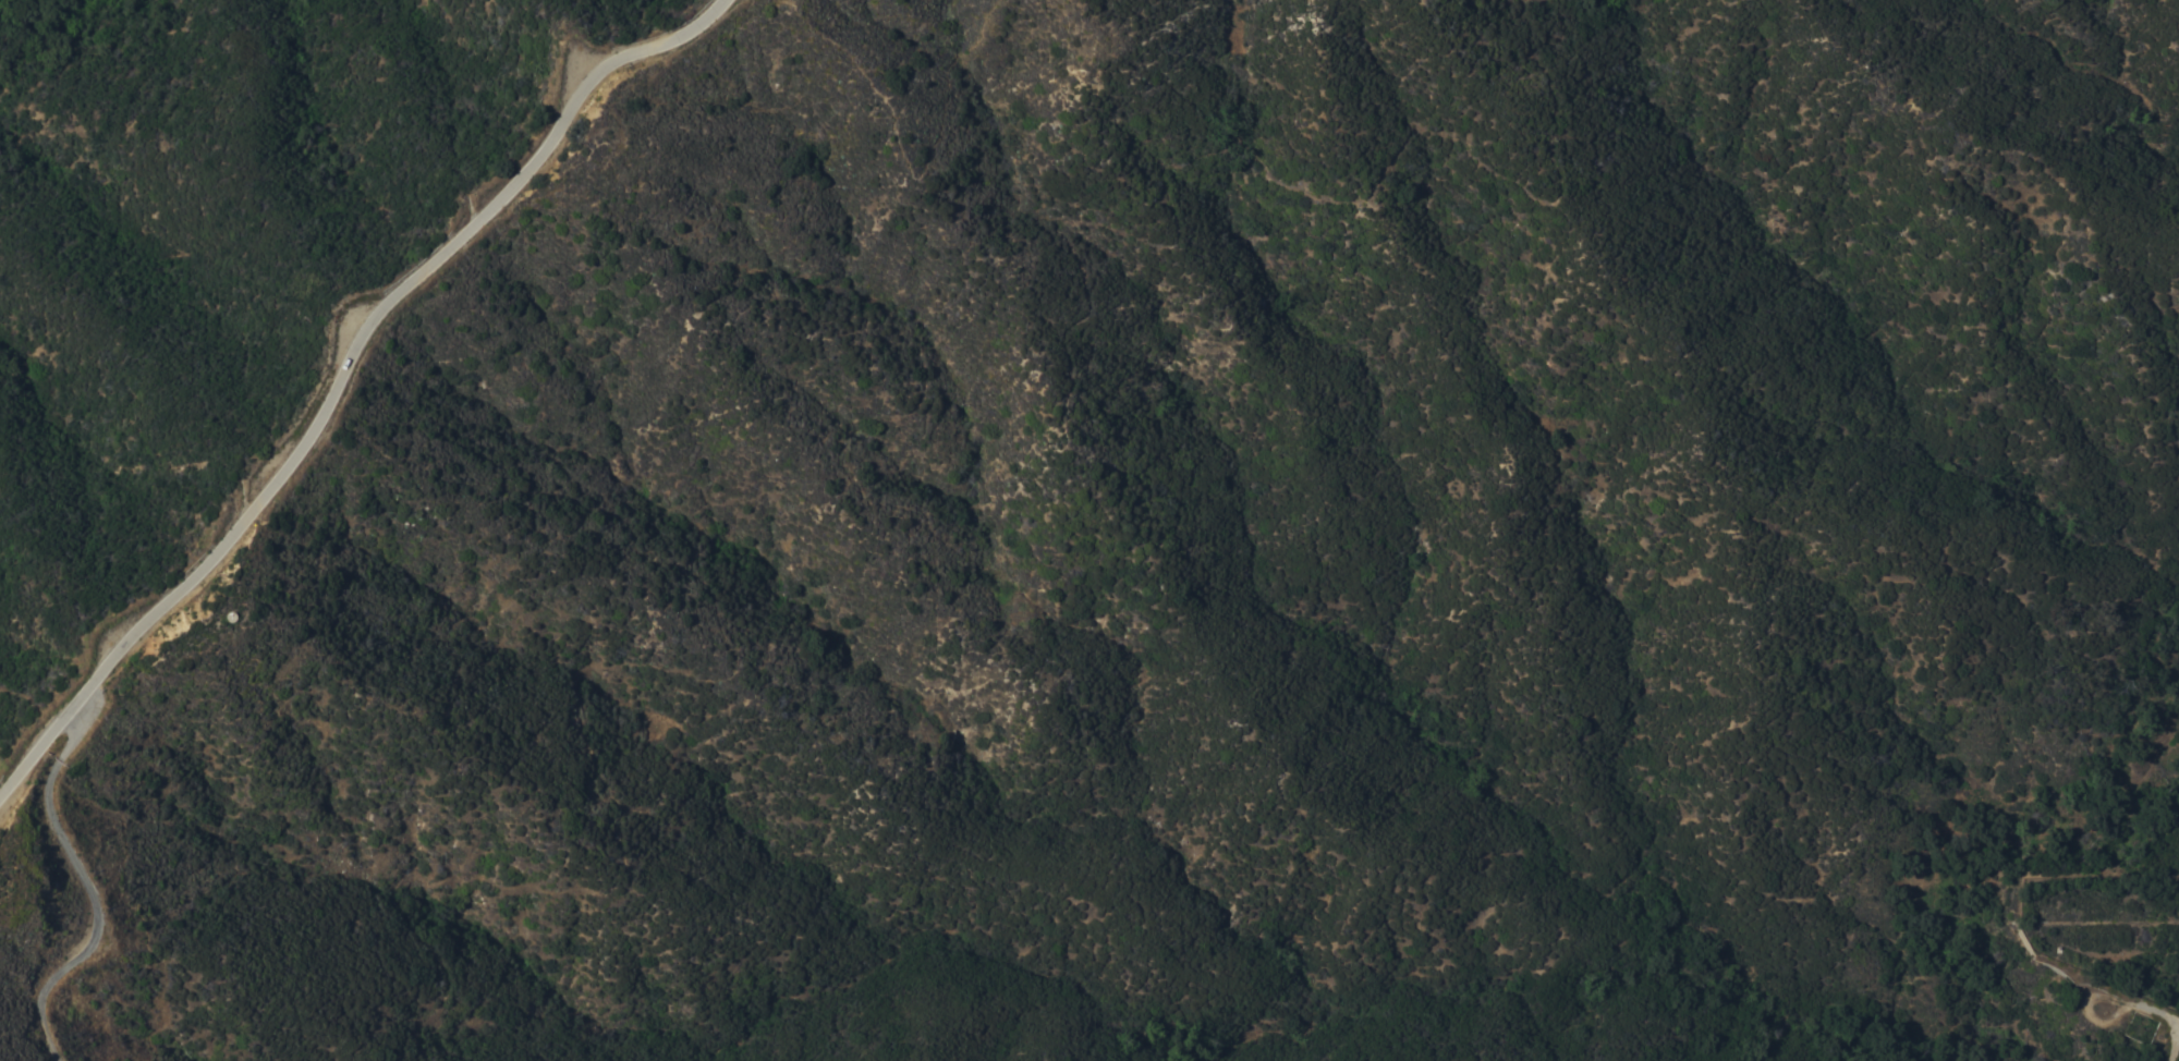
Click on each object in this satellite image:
road: (1736, 4)
road: (342, 373)
road: (925, 397)
road: (98, 898)
road: (2070, 975)
road: (2091, 999)
road: (2174, 1017)
road: (2177, 1053)

